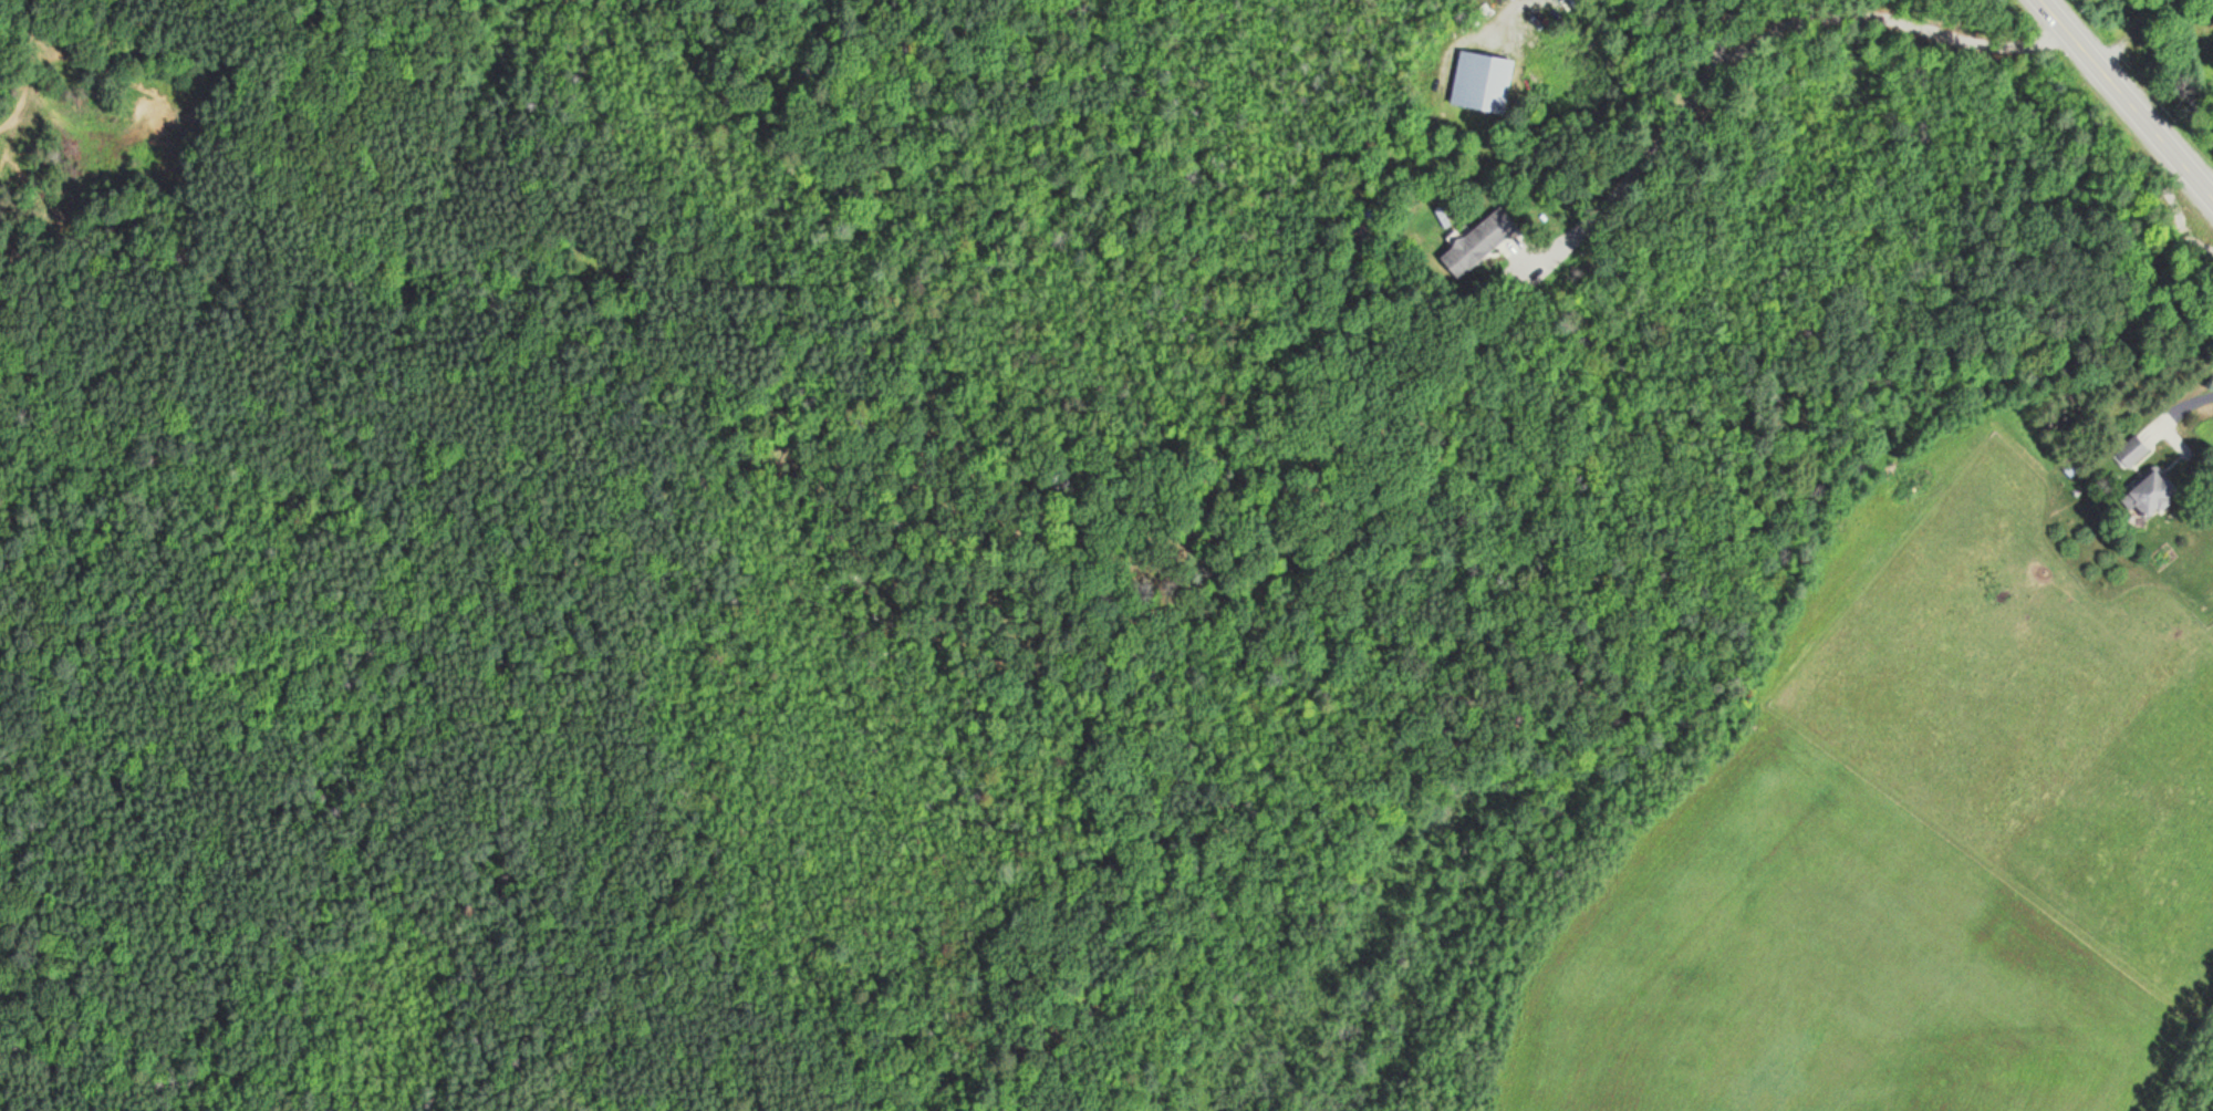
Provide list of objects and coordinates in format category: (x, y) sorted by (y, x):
road: (1465, 18)
building: (1528, 62)
building: (1476, 68)
road: (2127, 97)
road: (1638, 148)
building: (1476, 229)
building: (2129, 453)
building: (2144, 495)

